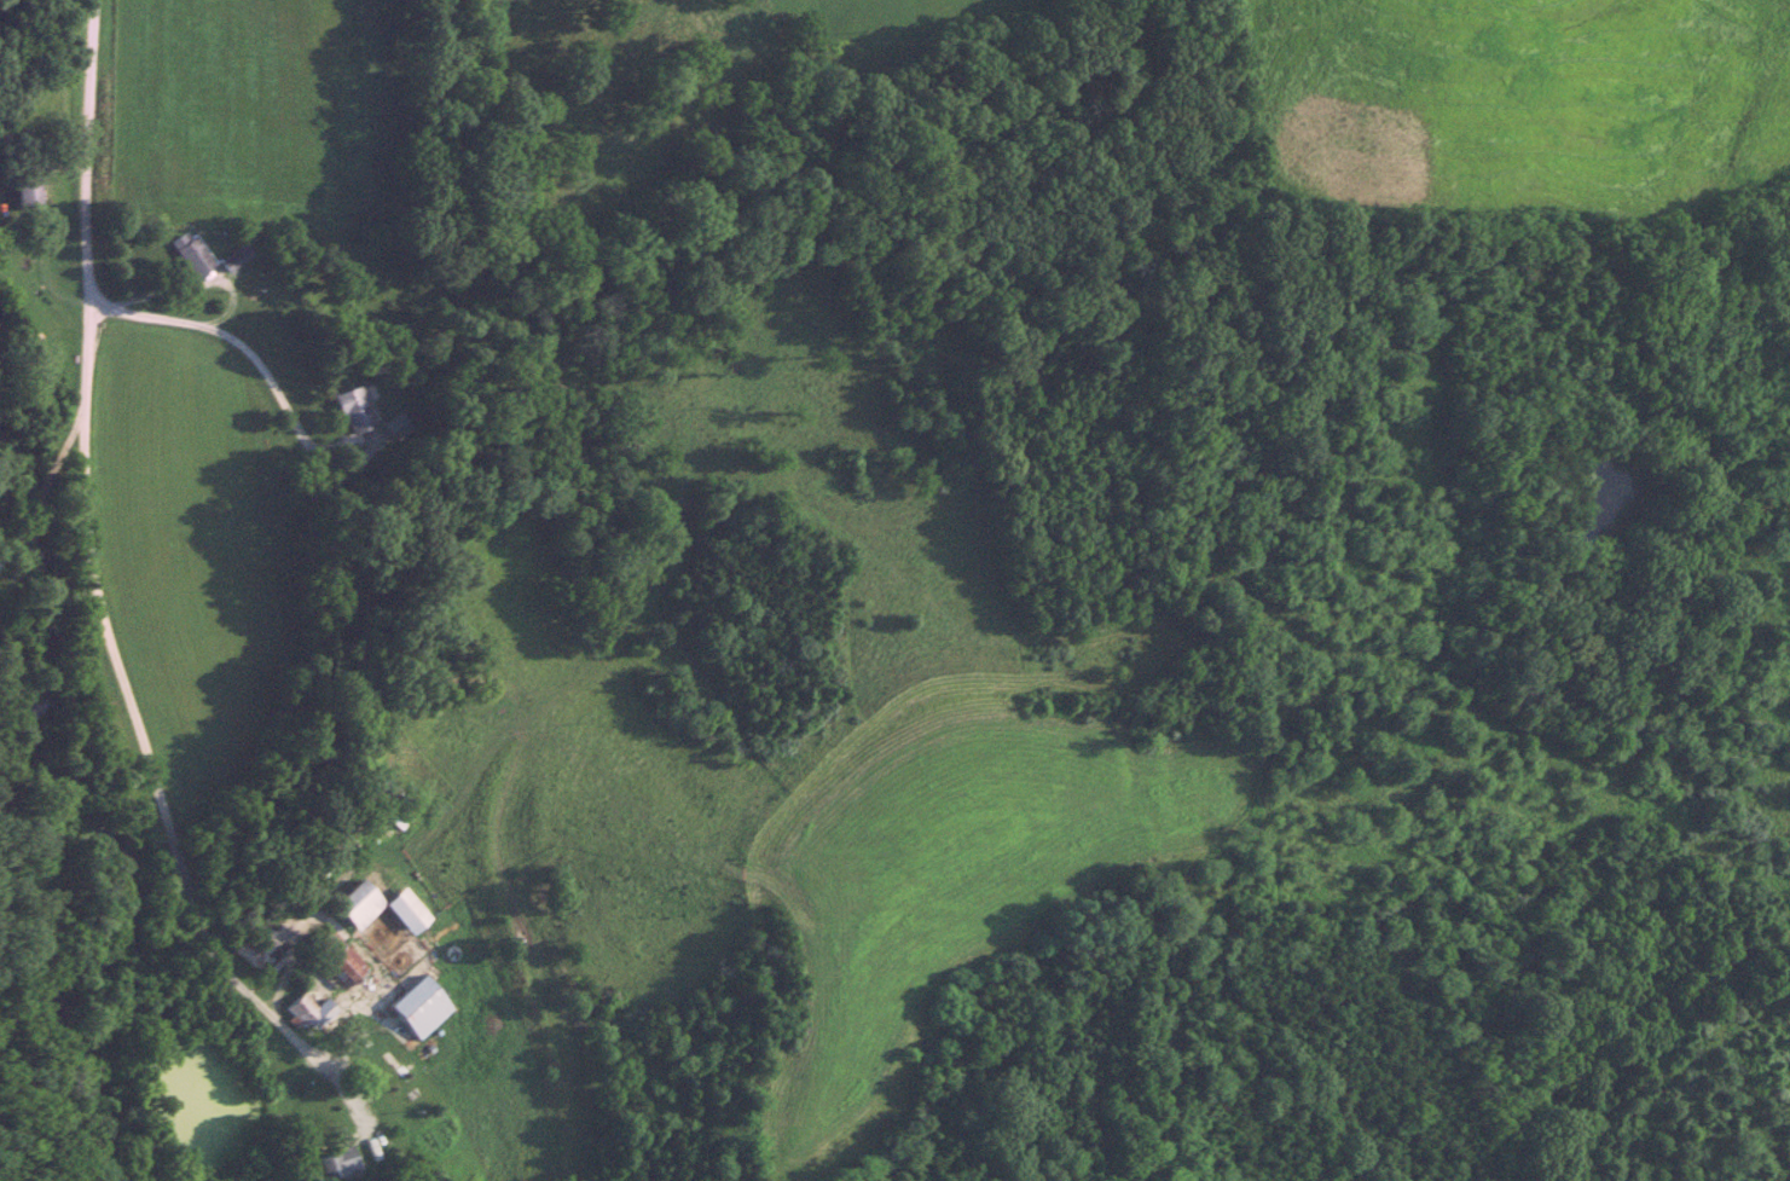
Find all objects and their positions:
building: (30, 197)
building: (191, 256)
building: (234, 260)
road: (190, 285)
road: (244, 351)
building: (352, 412)
road: (45, 491)
road: (98, 600)
building: (358, 907)
building: (407, 914)
building: (343, 969)
building: (421, 1009)
building: (309, 1015)
building: (338, 1166)

